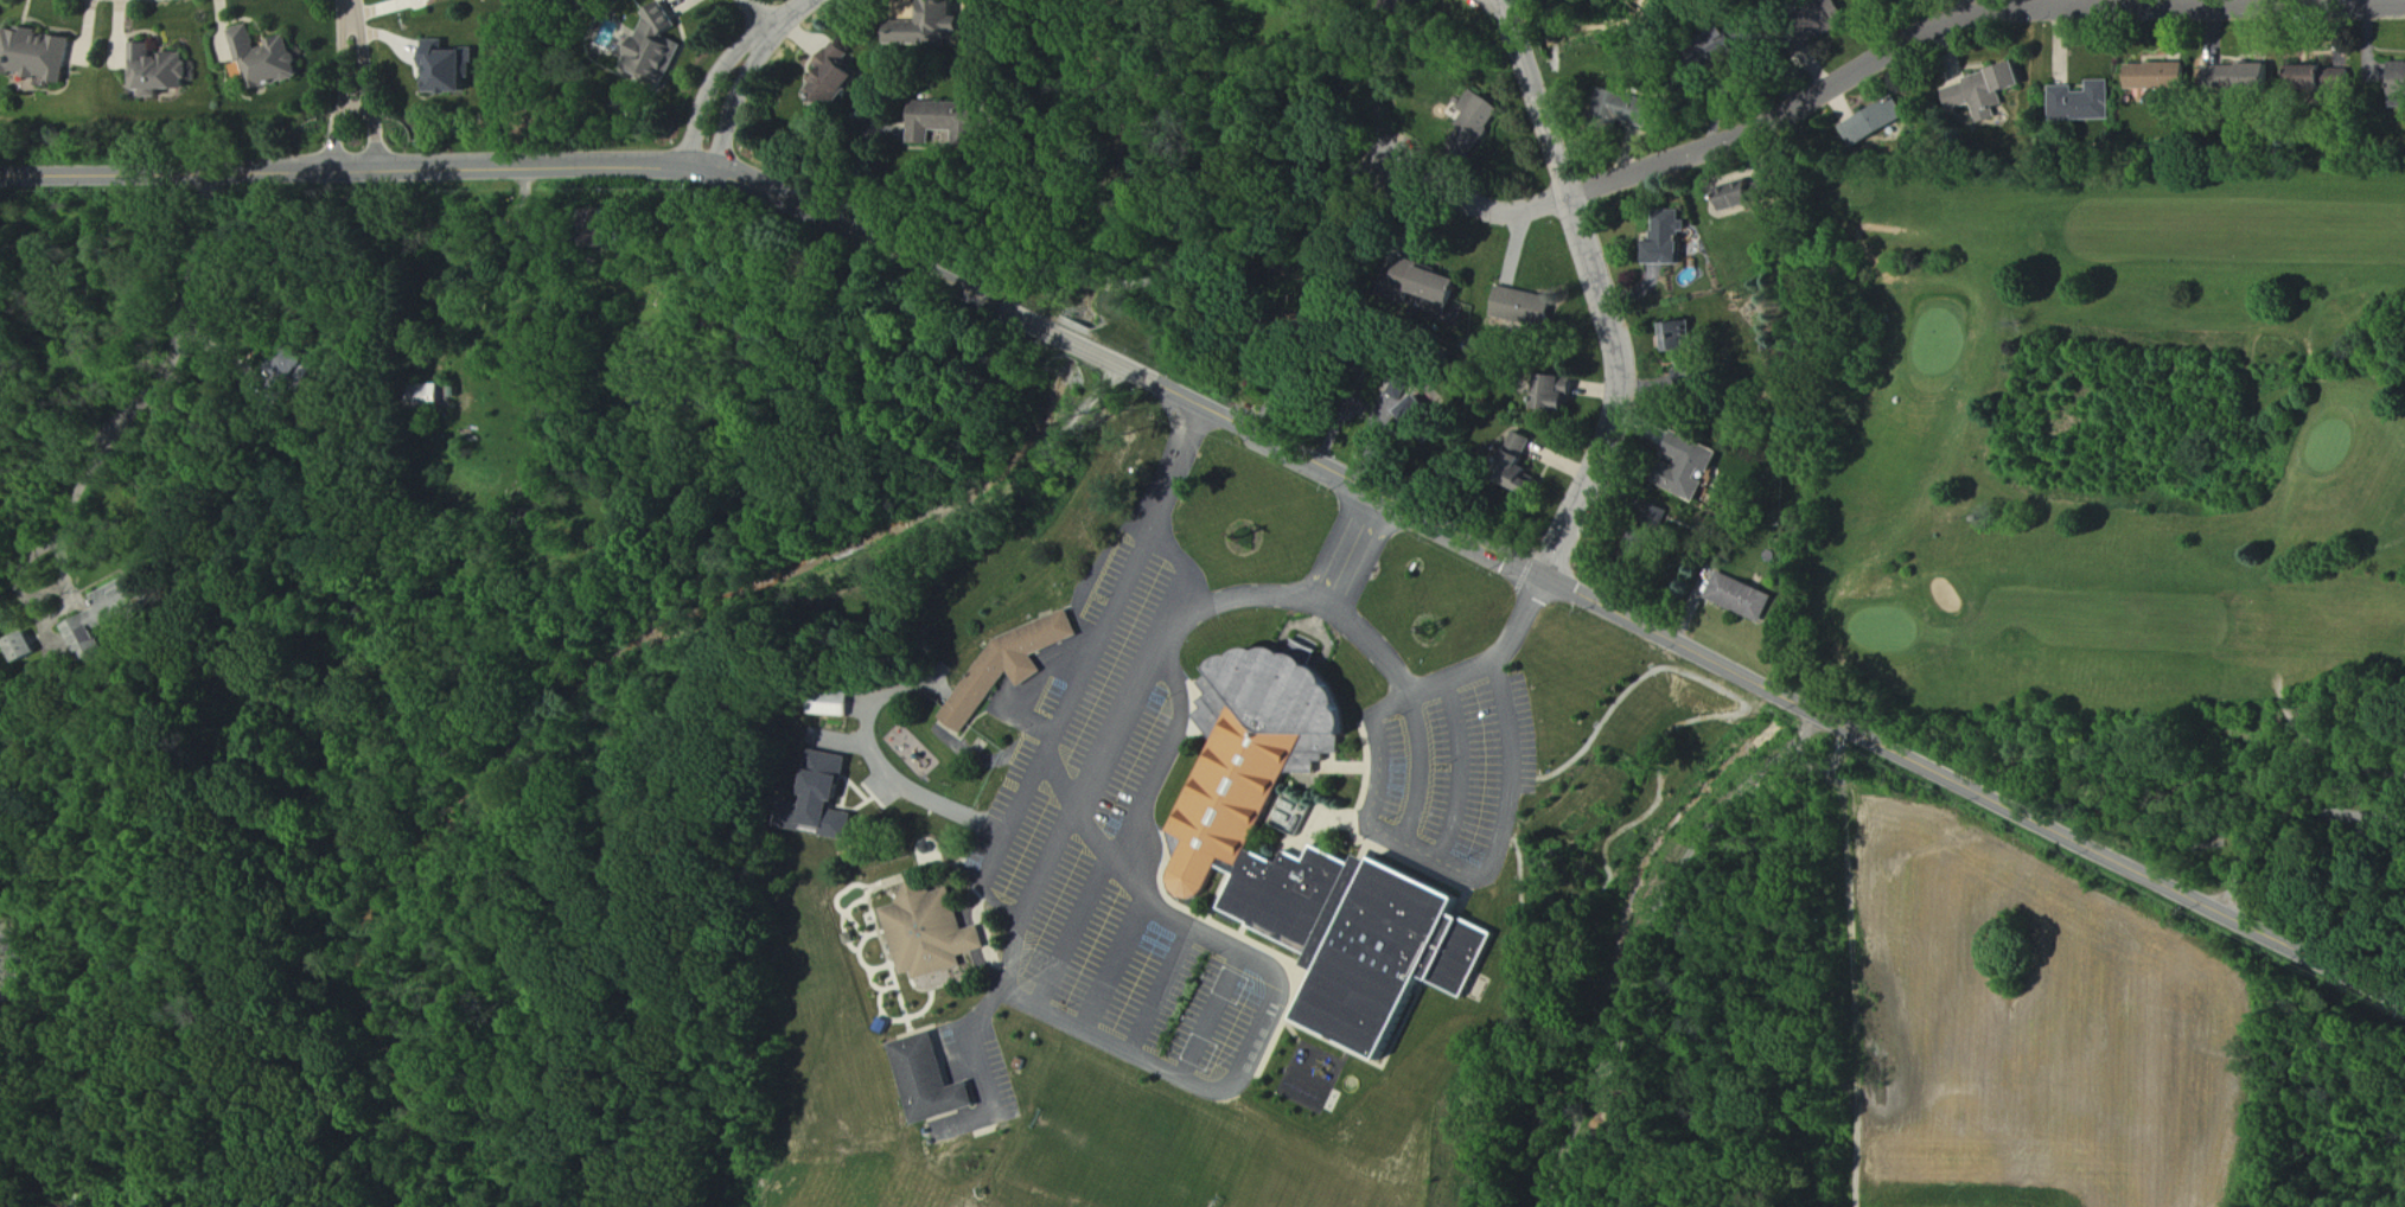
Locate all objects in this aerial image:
road: (351, 4)
road: (1976, 5)
road: (2273, 5)
building: (1404, 6)
road: (760, 14)
road: (1967, 14)
building: (931, 26)
building: (657, 45)
building: (40, 55)
building: (269, 58)
building: (448, 69)
road: (742, 69)
building: (164, 71)
building: (2262, 76)
building: (836, 77)
building: (2161, 77)
building: (2226, 77)
building: (2323, 78)
building: (2399, 84)
road: (365, 88)
road: (344, 89)
building: (1986, 92)
building: (2082, 102)
road: (356, 107)
building: (1638, 110)
building: (1479, 120)
building: (948, 122)
building: (1877, 123)
road: (542, 165)
building: (1754, 194)
road: (1481, 205)
building: (1671, 240)
building: (1441, 286)
road: (1605, 292)
building: (1527, 307)
road: (1074, 341)
building: (1684, 343)
road: (157, 381)
building: (1559, 395)
building: (1418, 413)
park: (2124, 427)
building: (1525, 461)
road: (1172, 470)
building: (1695, 470)
road: (1184, 562)
road: (1246, 595)
building: (1743, 598)
building: (104, 617)
building: (24, 649)
road: (1383, 653)
building: (1010, 668)
road: (1753, 677)
road: (1020, 679)
building: (834, 707)
road: (1168, 755)
road: (1462, 771)
road: (886, 772)
building: (828, 800)
road: (2288, 813)
road: (1089, 830)
road: (1148, 848)
building: (1318, 858)
road: (1046, 863)
road: (1461, 869)
road: (1074, 932)
building: (931, 933)
road: (1117, 963)
road: (1162, 990)
road: (1213, 1015)
road: (1119, 1046)
road: (978, 1066)
building: (932, 1083)

